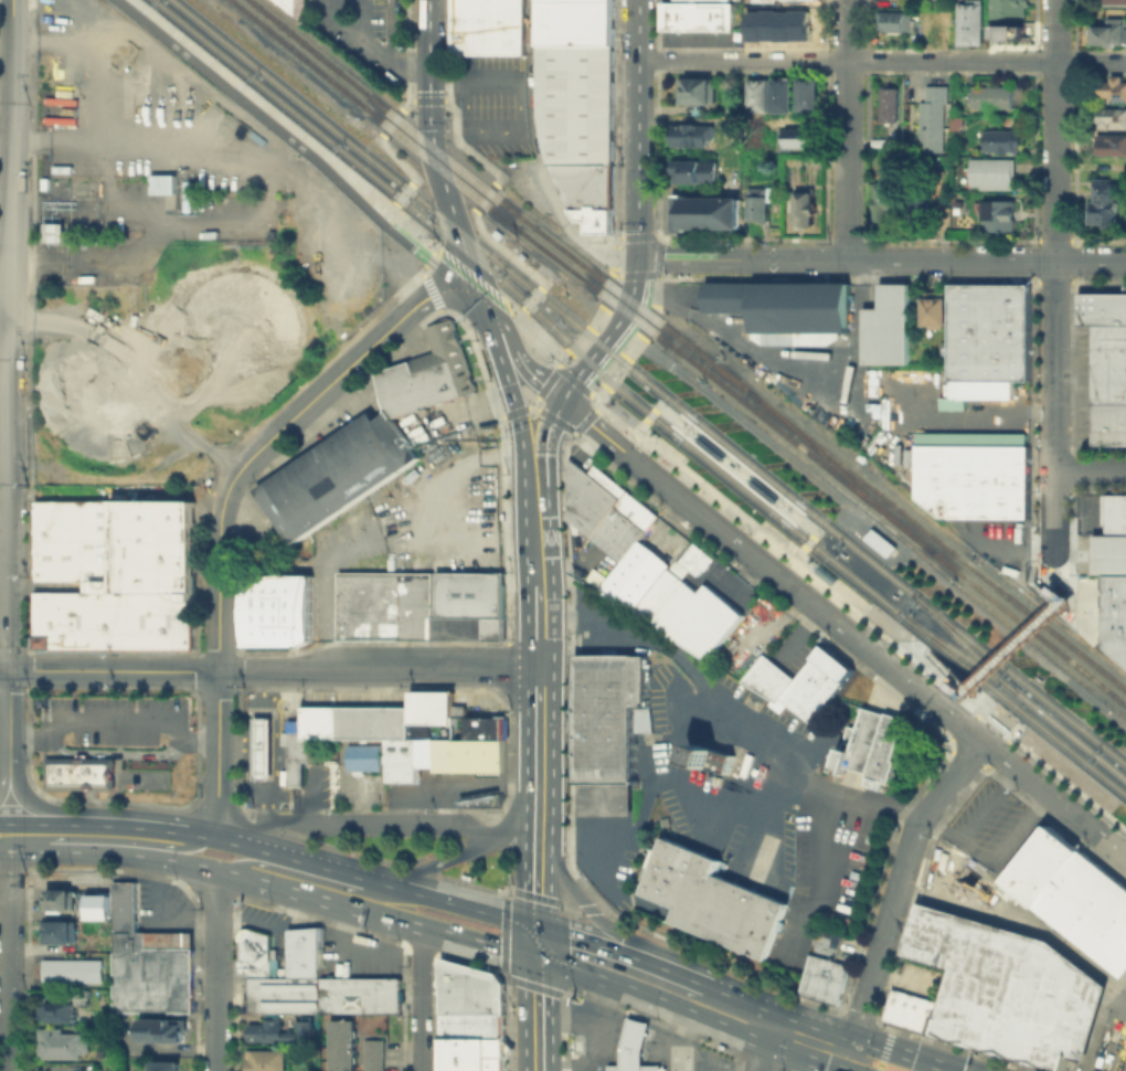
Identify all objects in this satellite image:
building: (1115, 2)
building: (1007, 8)
building: (679, 14)
building: (714, 14)
building: (576, 22)
building: (969, 22)
building: (897, 23)
building: (488, 26)
building: (783, 26)
building: (1112, 33)
building: (1010, 34)
parking lot: (368, 35)
road: (371, 44)
road: (447, 50)
road: (412, 51)
road: (882, 62)
traffic signals: (428, 89)
building: (694, 89)
building: (1115, 92)
building: (757, 93)
building: (809, 93)
building: (783, 94)
road: (427, 98)
building: (995, 98)
parking lot: (492, 102)
building: (889, 103)
road: (406, 104)
road: (258, 115)
building: (1114, 119)
road: (391, 120)
road: (615, 121)
building: (934, 123)
road: (288, 124)
building: (580, 126)
road: (637, 128)
road: (847, 128)
road: (1055, 129)
building: (693, 134)
building: (797, 137)
building: (1003, 141)
building: (893, 142)
road: (461, 145)
building: (1113, 146)
road: (433, 150)
road: (396, 158)
building: (1119, 168)
building: (694, 170)
building: (996, 176)
building: (161, 183)
road: (403, 192)
railway: (493, 194)
road: (263, 195)
road: (485, 195)
building: (757, 202)
building: (1103, 203)
road: (393, 204)
building: (805, 205)
building: (890, 208)
building: (707, 211)
building: (922, 211)
road: (384, 215)
building: (1002, 216)
building: (306, 229)
road: (570, 229)
building: (52, 231)
road: (649, 232)
road: (433, 250)
road: (504, 251)
road: (614, 256)
traffic signals: (636, 257)
road: (880, 257)
road: (428, 259)
road: (437, 264)
road: (635, 265)
road: (656, 265)
road: (613, 268)
road: (612, 272)
road: (616, 272)
road: (421, 274)
road: (638, 274)
railway: (580, 275)
road: (410, 280)
road: (478, 283)
road: (607, 289)
road: (655, 289)
road: (532, 297)
road: (500, 304)
building: (785, 308)
building: (1102, 308)
road: (522, 310)
building: (937, 311)
road: (448, 315)
road: (596, 317)
road: (649, 321)
building: (888, 325)
road: (503, 329)
road: (609, 329)
building: (991, 332)
road: (10, 335)
road: (540, 338)
road: (581, 340)
road: (633, 346)
building: (439, 350)
road: (564, 360)
road: (613, 369)
road: (341, 372)
road: (564, 372)
road: (537, 378)
traffic signals: (507, 382)
railway: (649, 382)
road: (507, 383)
building: (1109, 384)
building: (446, 385)
road: (582, 388)
building: (399, 389)
road: (566, 389)
building: (985, 390)
road: (539, 391)
road: (597, 391)
traffic signals: (561, 400)
railway: (635, 402)
road: (458, 407)
road: (1053, 411)
road: (551, 418)
road: (584, 418)
railway: (672, 418)
road: (642, 422)
road: (623, 425)
road: (544, 435)
building: (390, 438)
building: (367, 450)
building: (347, 465)
road: (615, 465)
railway: (836, 466)
road: (1090, 470)
building: (326, 479)
building: (976, 481)
road: (762, 489)
building: (305, 494)
building: (275, 495)
building: (608, 510)
building: (1114, 513)
railway: (797, 517)
building: (663, 518)
building: (293, 521)
road: (535, 528)
railway: (933, 537)
road: (338, 553)
building: (1108, 553)
road: (1042, 561)
building: (117, 575)
road: (1048, 577)
road: (219, 582)
building: (468, 593)
building: (384, 605)
building: (276, 608)
building: (1115, 615)
road: (537, 624)
railway: (1028, 626)
building: (467, 627)
road: (841, 629)
road: (882, 635)
road: (1020, 646)
road: (909, 648)
railway: (955, 649)
road: (378, 666)
road: (935, 667)
building: (1125, 667)
road: (4, 669)
road: (114, 670)
building: (772, 679)
building: (819, 685)
road: (276, 687)
railway: (1015, 690)
road: (295, 694)
road: (733, 708)
road: (26, 714)
road: (117, 721)
road: (10, 723)
road: (538, 727)
building: (609, 730)
building: (415, 733)
road: (233, 741)
building: (870, 744)
road: (57, 747)
building: (262, 747)
road: (275, 747)
road: (249, 751)
road: (295, 751)
building: (295, 752)
road: (83, 753)
road: (139, 753)
road: (217, 753)
building: (364, 756)
building: (710, 757)
building: (78, 772)
road: (4, 778)
road: (657, 781)
road: (4, 783)
road: (195, 799)
road: (237, 800)
road: (216, 802)
road: (295, 802)
road: (43, 809)
road: (484, 809)
road: (734, 810)
road: (538, 812)
road: (245, 814)
road: (519, 816)
road: (492, 819)
road: (354, 820)
road: (484, 820)
road: (44, 824)
road: (263, 824)
road: (1052, 824)
road: (152, 829)
road: (475, 829)
road: (498, 833)
road: (123, 840)
road: (110, 852)
road: (371, 856)
road: (288, 859)
road: (508, 865)
road: (427, 867)
road: (431, 867)
building: (1045, 868)
road: (318, 880)
road: (538, 881)
road: (916, 884)
road: (472, 886)
road: (895, 887)
road: (506, 890)
road: (537, 897)
road: (4, 898)
building: (61, 898)
building: (715, 899)
road: (450, 903)
building: (97, 905)
road: (571, 905)
road: (603, 906)
road: (588, 908)
building: (1093, 911)
road: (159, 914)
road: (379, 918)
traffic signals: (539, 927)
road: (503, 933)
building: (61, 934)
road: (626, 936)
road: (539, 944)
road: (341, 948)
building: (304, 952)
building: (257, 954)
road: (640, 959)
road: (8, 961)
building: (147, 961)
traffic signals: (539, 962)
building: (75, 972)
road: (217, 972)
road: (504, 976)
building: (822, 978)
road: (535, 986)
building: (1006, 988)
road: (635, 992)
building: (323, 994)
building: (84, 998)
road: (419, 999)
building: (470, 1000)
road: (840, 1009)
building: (59, 1014)
road: (539, 1016)
road: (752, 1018)
road: (857, 1018)
road: (564, 1021)
road: (881, 1025)
road: (591, 1027)
building: (278, 1030)
road: (635, 1030)
building: (166, 1032)
road: (808, 1039)
building: (633, 1040)
gas station: (633, 1040)
road: (680, 1041)
building: (342, 1045)
building: (65, 1046)
road: (162, 1047)
traffic signals: (830, 1047)
road: (763, 1048)
road: (884, 1049)
road: (963, 1049)
building: (468, 1052)
building: (374, 1054)
road: (805, 1056)
road: (895, 1056)
building: (264, 1059)
traffic signals: (912, 1061)
road: (856, 1062)
building: (496, 1063)
parking lot: (57, 1065)
building: (164, 1065)
building: (634, 1067)

